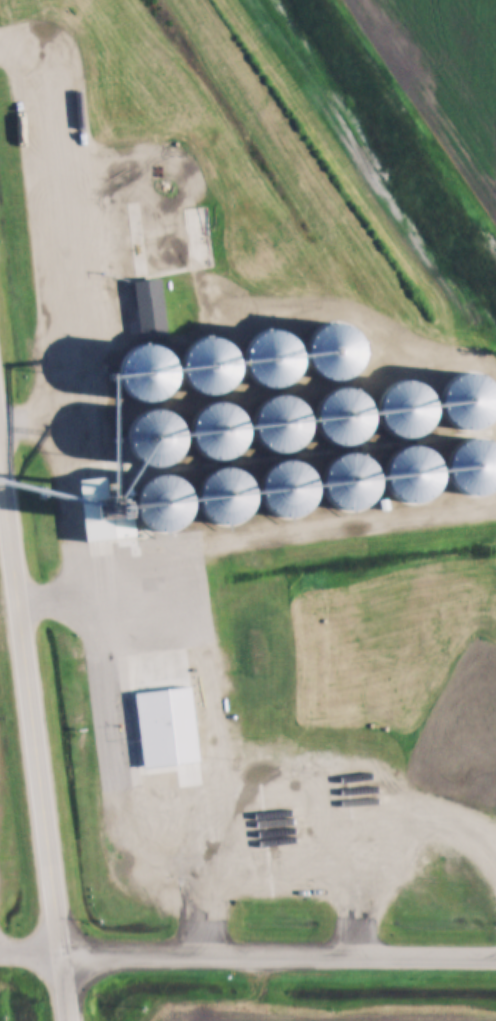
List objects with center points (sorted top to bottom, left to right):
building: (152, 309)
road: (260, 319)
building: (336, 352)
silo: (336, 352)
building: (272, 356)
silo: (272, 356)
building: (211, 364)
silo: (211, 364)
building: (148, 371)
silo: (148, 371)
building: (470, 398)
silo: (470, 398)
building: (408, 408)
silo: (408, 408)
building: (344, 415)
silo: (344, 415)
road: (33, 418)
building: (281, 423)
silo: (281, 423)
building: (221, 428)
silo: (221, 428)
building: (155, 436)
silo: (155, 436)
building: (474, 464)
silo: (474, 464)
building: (415, 472)
silo: (415, 472)
building: (353, 480)
silo: (353, 480)
building: (289, 487)
silo: (289, 487)
building: (227, 495)
silo: (227, 495)
building: (165, 502)
silo: (165, 502)
road: (68, 507)
building: (102, 514)
road: (254, 539)
building: (167, 710)
road: (34, 727)
building: (285, 752)
silo: (285, 752)
building: (255, 755)
silo: (255, 755)
road: (306, 863)
road: (247, 959)
crop: (297, 1006)

